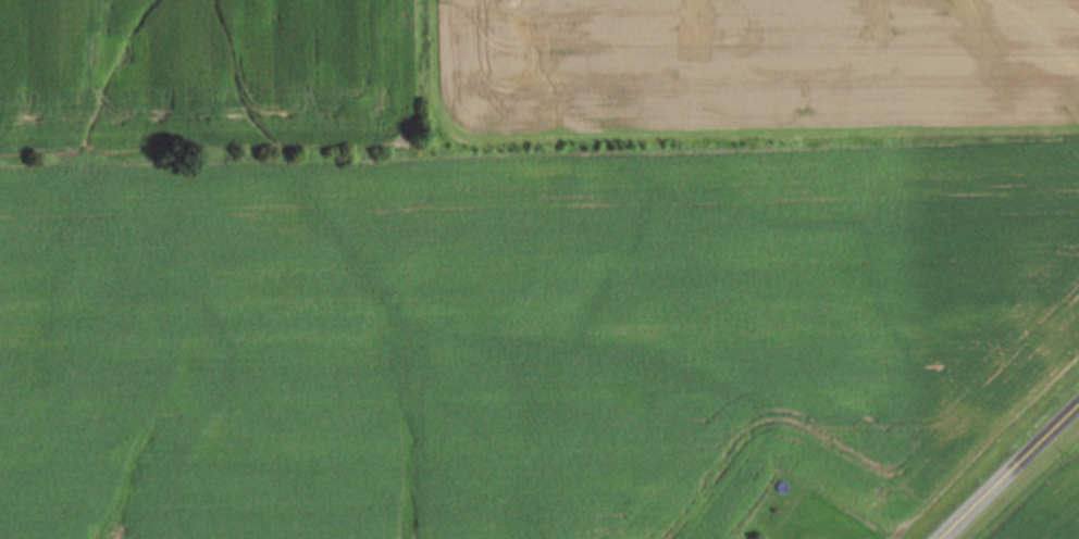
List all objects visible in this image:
road: (1010, 473)

